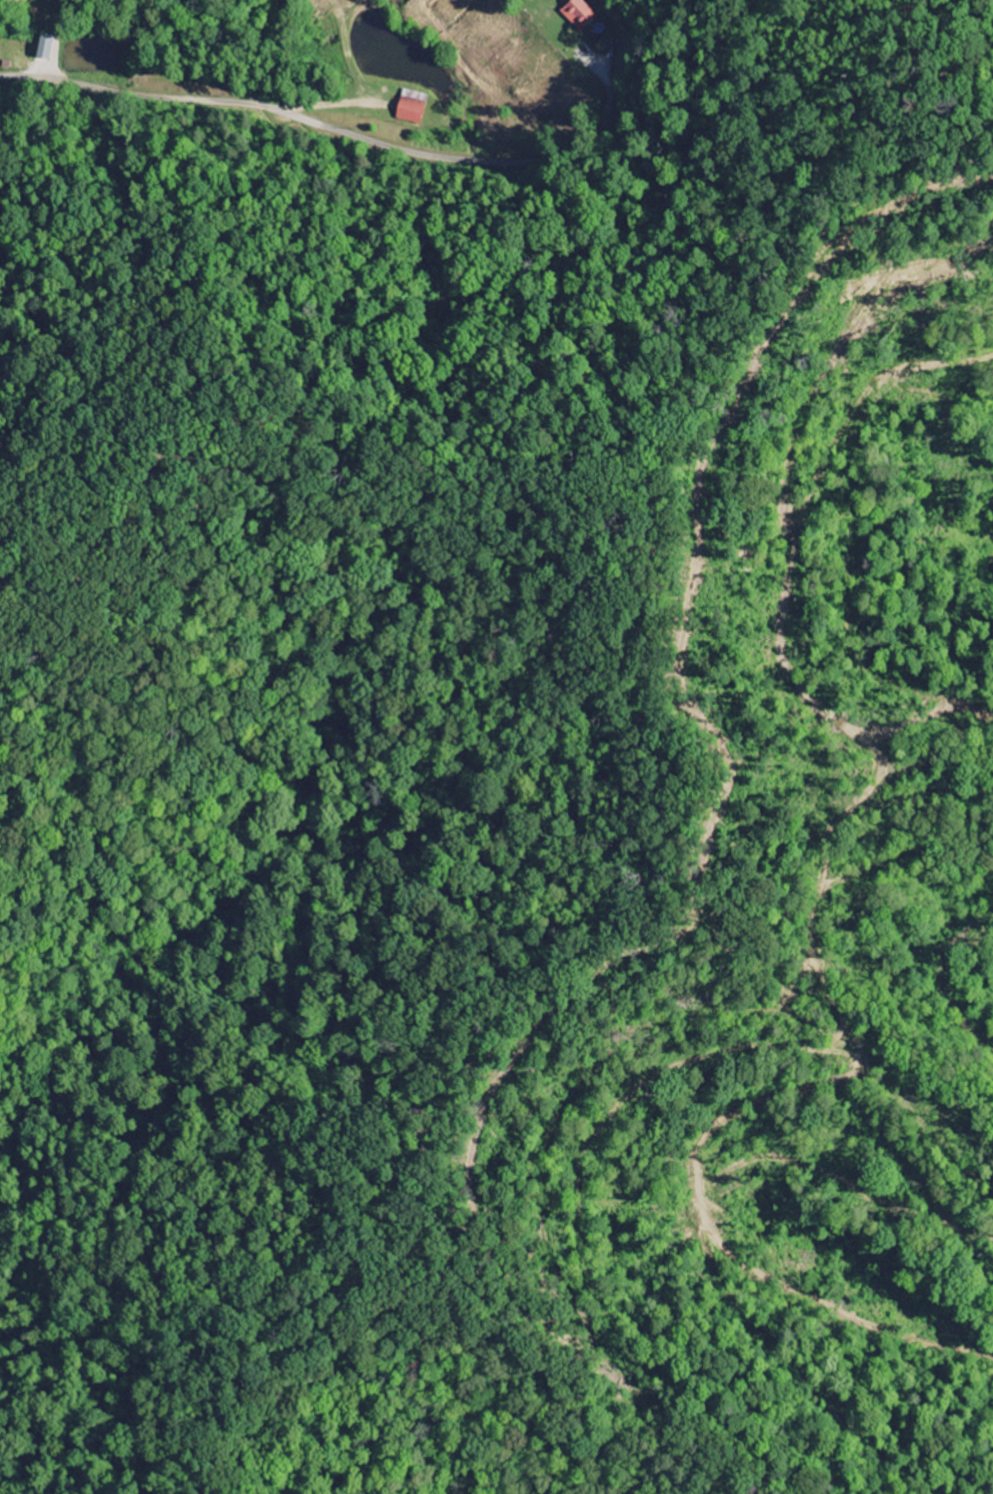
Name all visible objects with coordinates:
building: (577, 14)
building: (410, 107)

